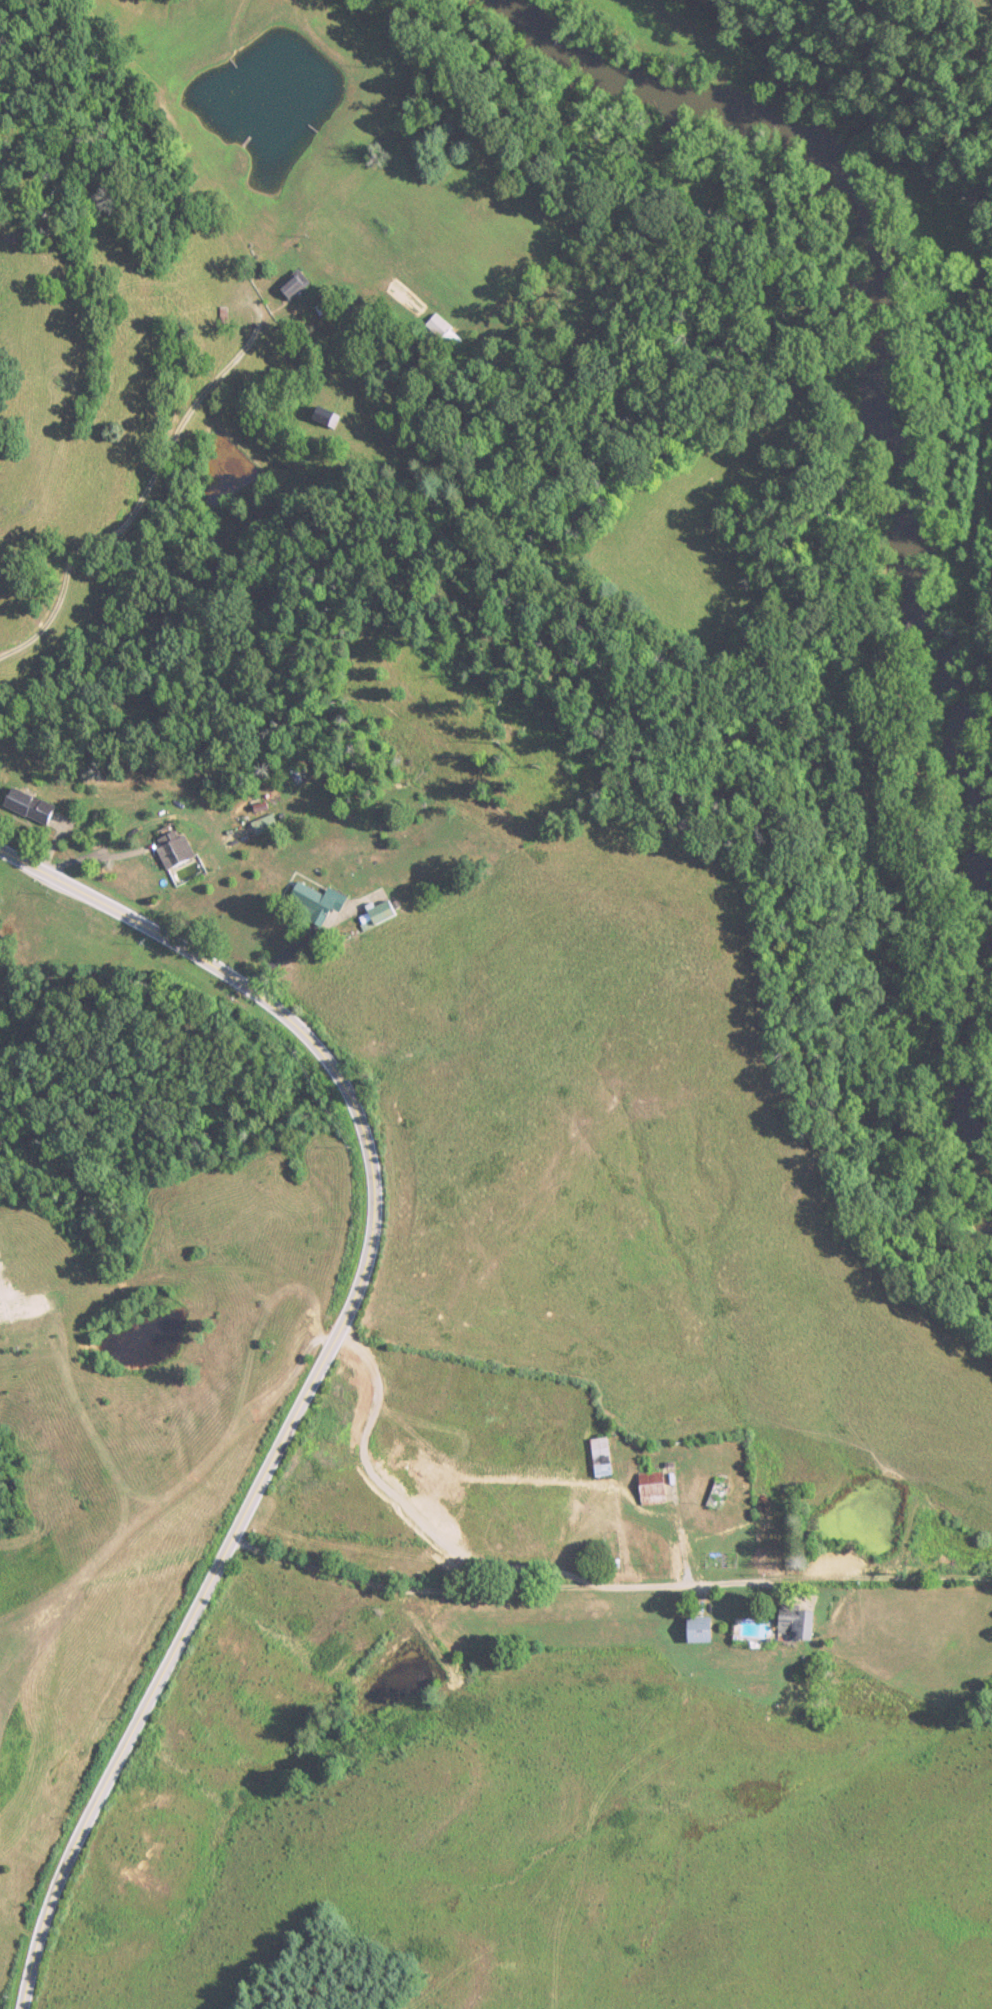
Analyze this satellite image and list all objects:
road: (140, 500)
building: (263, 825)
road: (100, 906)
building: (599, 1458)
road: (269, 1464)
building: (650, 1489)
building: (715, 1496)
road: (406, 1510)
road: (888, 1578)
road: (504, 1589)
building: (793, 1627)
building: (695, 1631)
road: (19, 1926)

